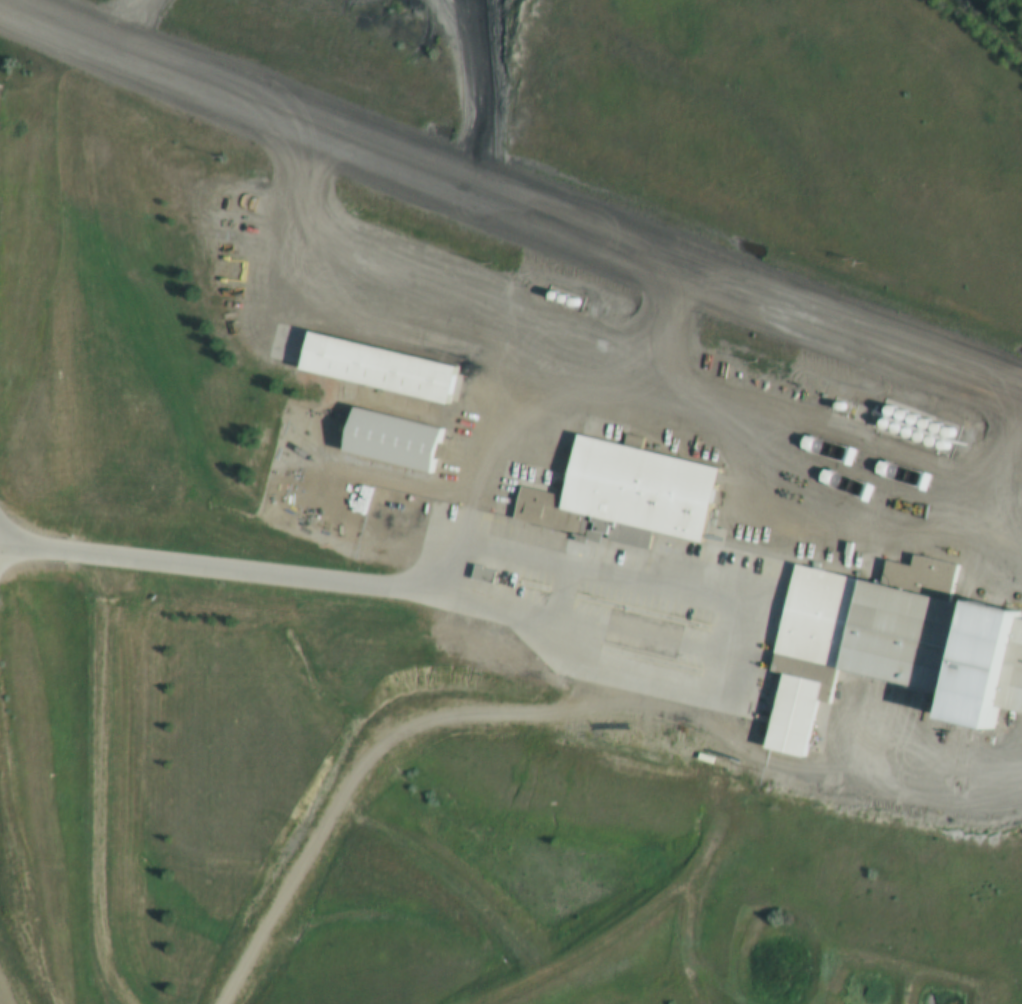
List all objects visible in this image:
road: (122, 25)
road: (510, 205)
building: (389, 366)
road: (639, 367)
road: (545, 413)
building: (389, 435)
building: (636, 492)
road: (1010, 497)
road: (533, 620)
building: (911, 628)
building: (813, 714)
road: (98, 787)
road: (17, 880)

